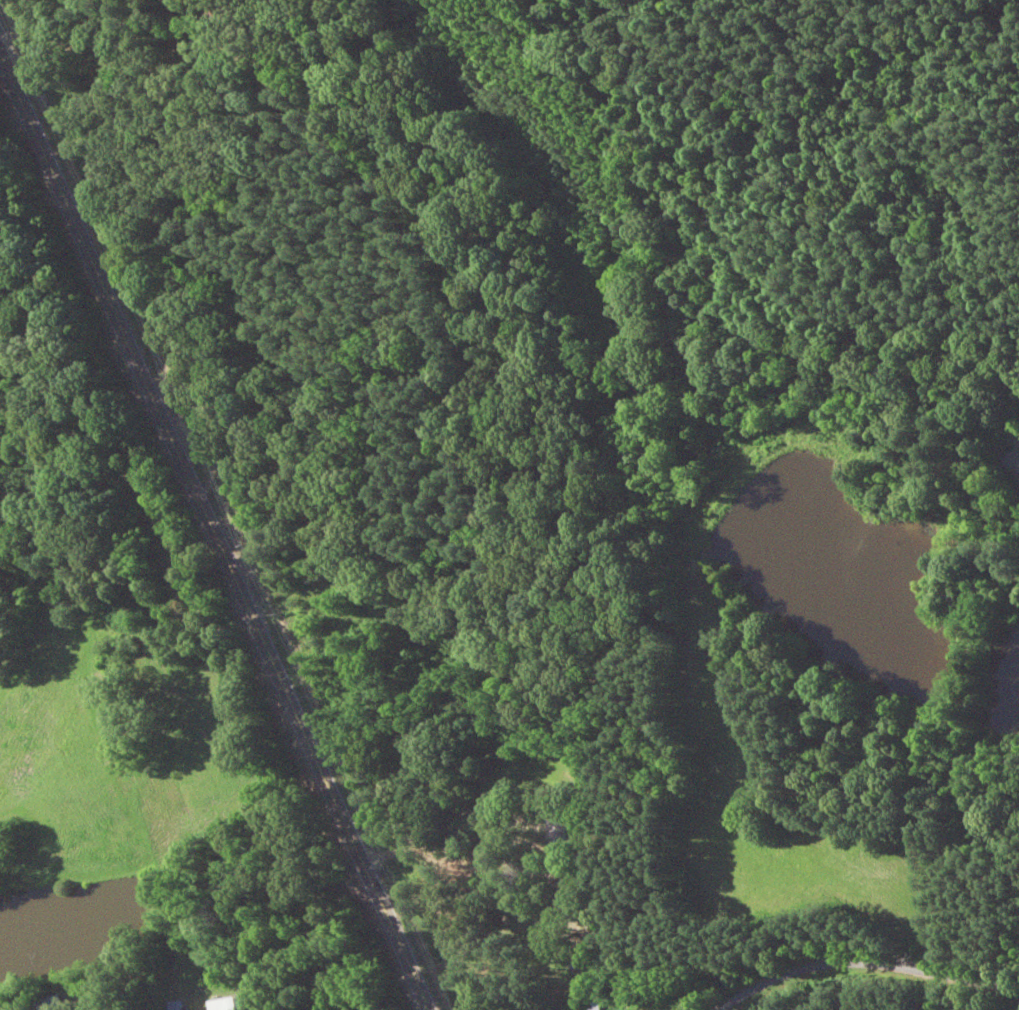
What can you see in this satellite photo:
road: (199, 576)
building: (557, 835)
road: (807, 951)
building: (574, 959)
building: (46, 1002)
building: (222, 1005)
building: (175, 1006)

